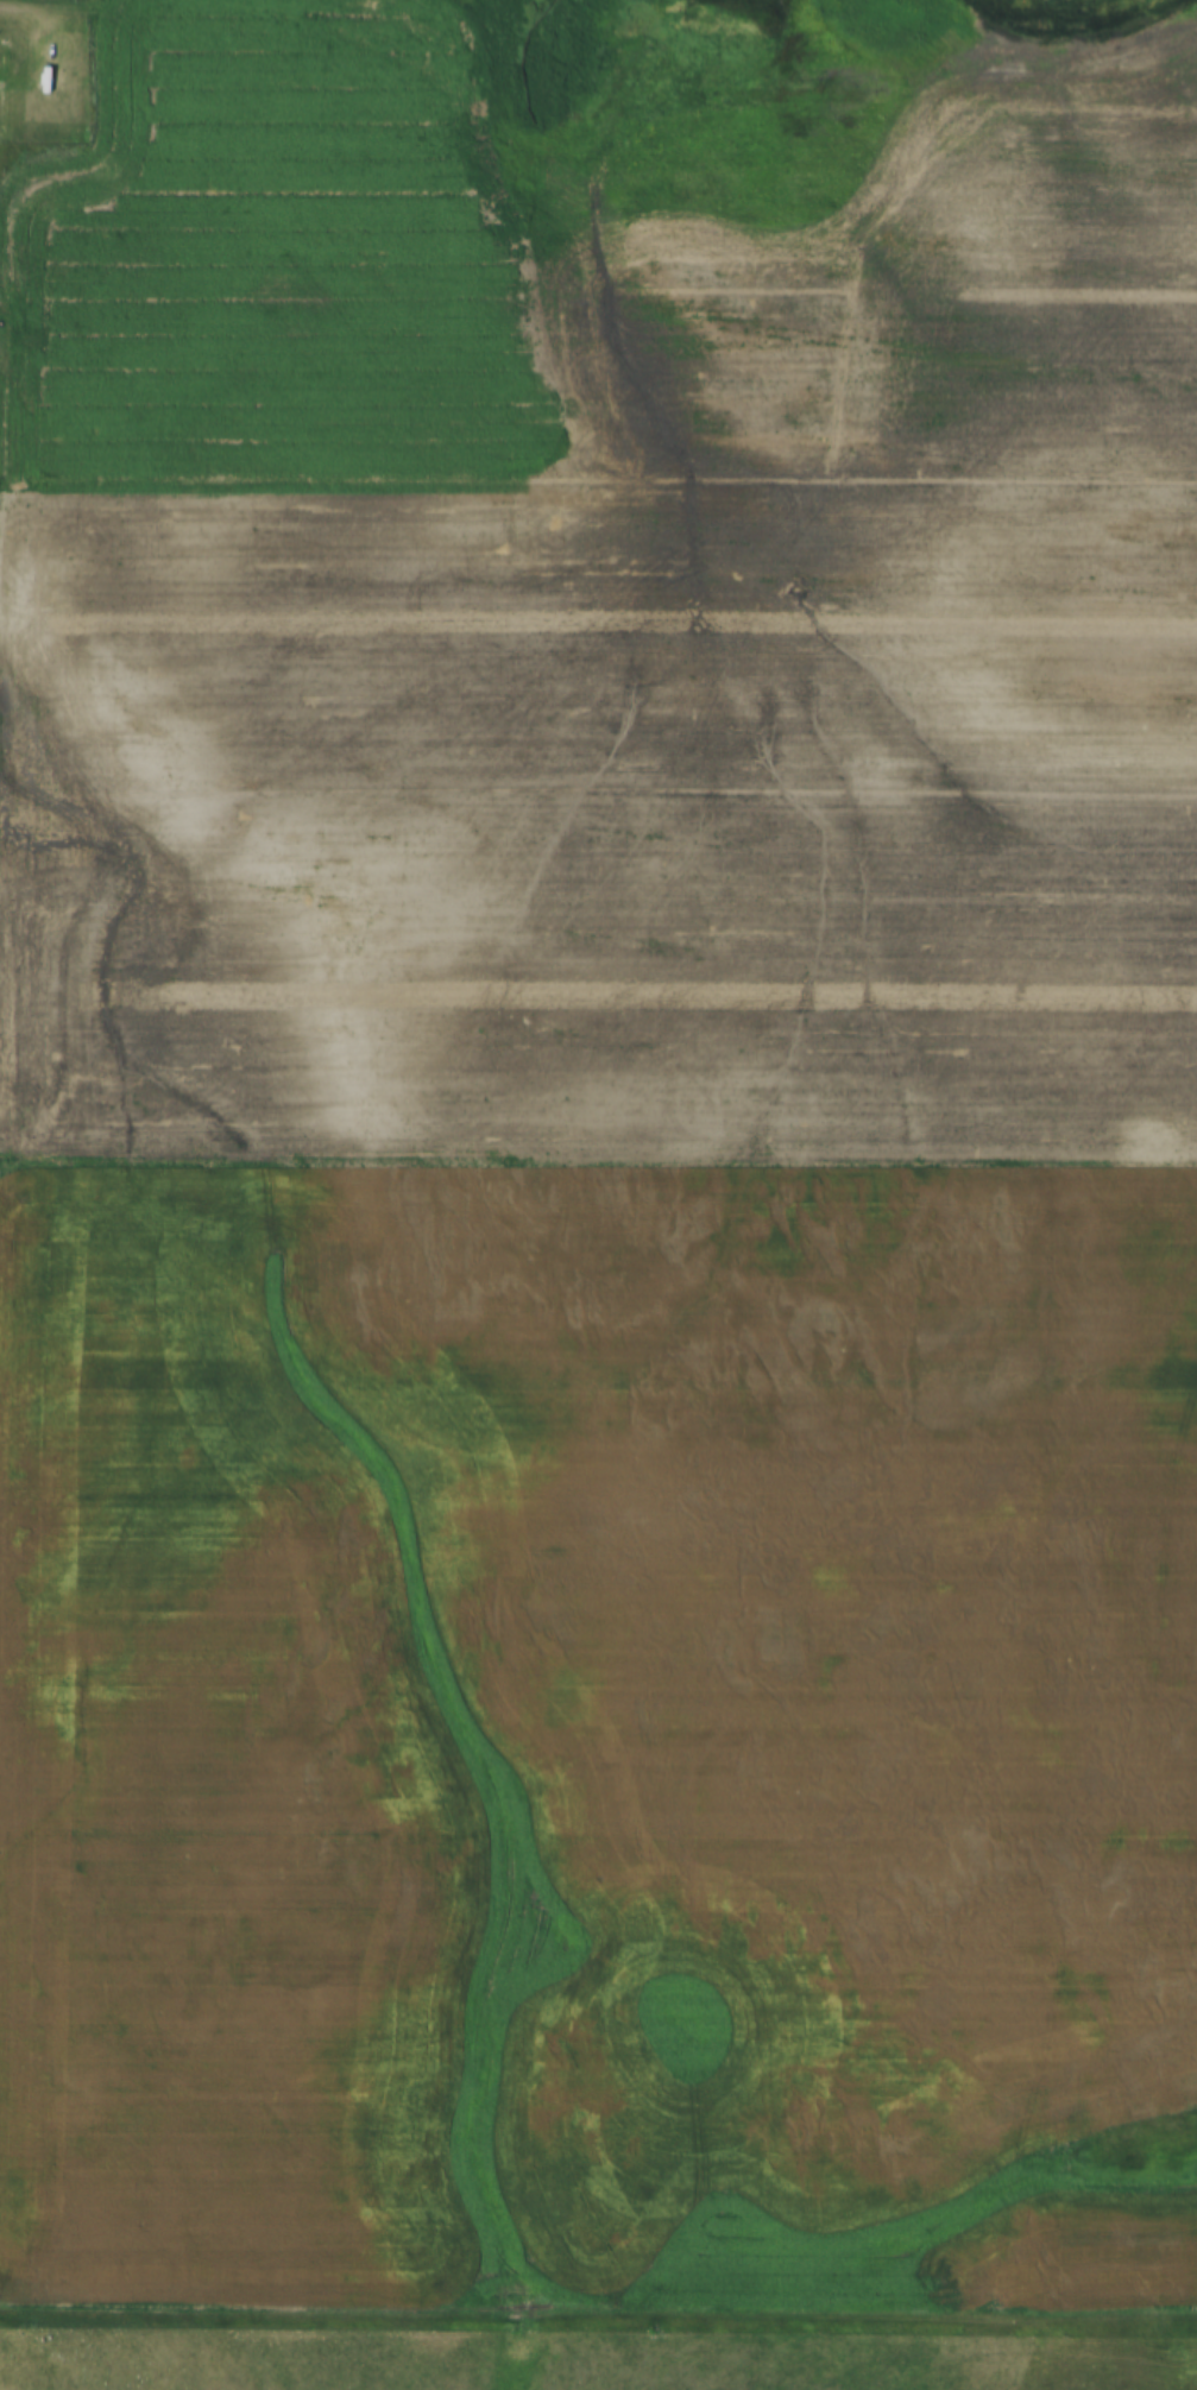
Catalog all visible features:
park: (43, 70)
building: (0, 80)
road: (598, 2319)

